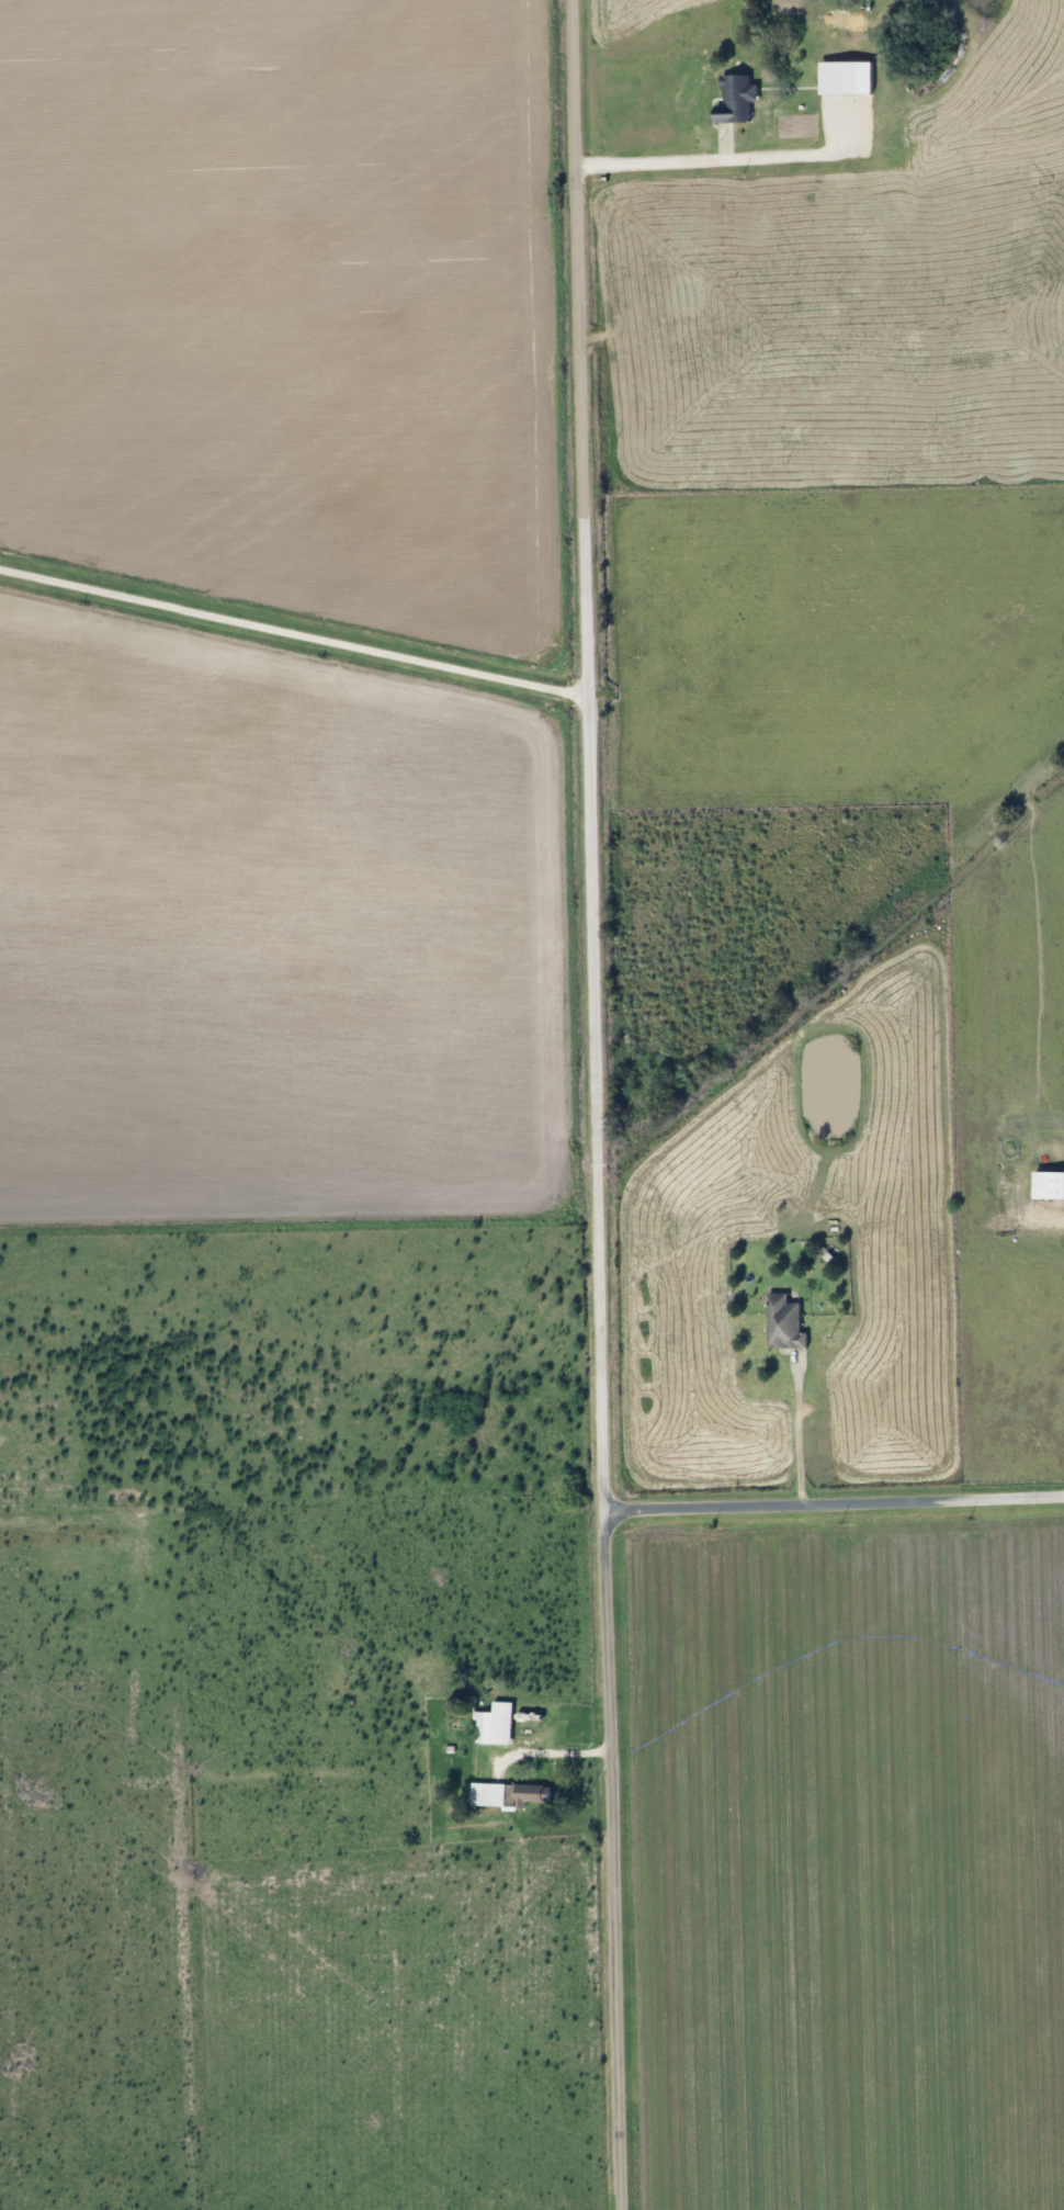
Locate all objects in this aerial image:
building: (839, 78)
building: (736, 100)
road: (712, 155)
road: (296, 633)
road: (600, 1105)
building: (1049, 1186)
building: (783, 1324)
road: (797, 1432)
road: (836, 1503)
building: (484, 1727)
road: (558, 1757)
building: (534, 1793)
building: (488, 1794)

